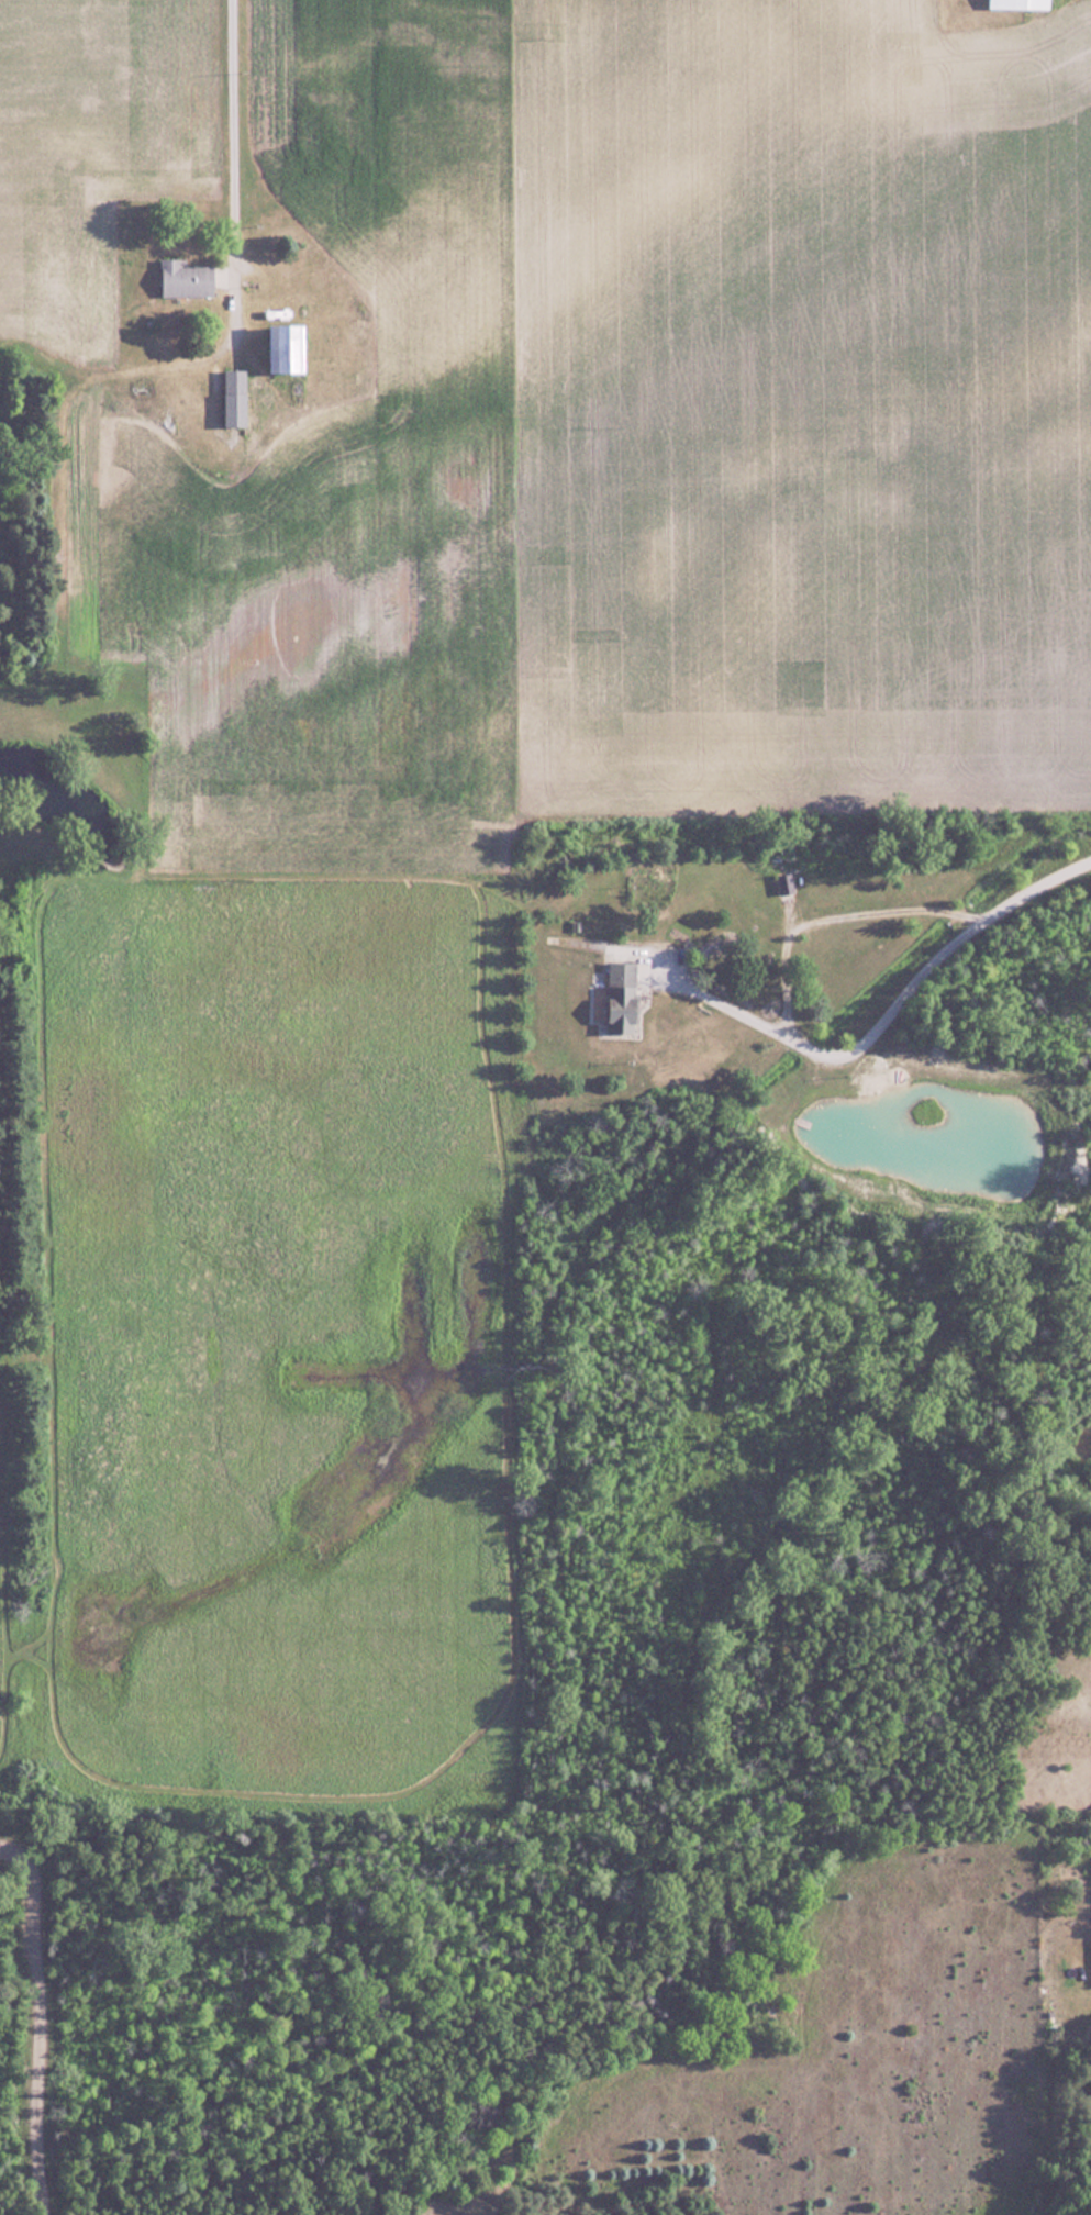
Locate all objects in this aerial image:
building: (1018, 4)
building: (187, 279)
building: (290, 348)
building: (237, 398)
building: (784, 883)
road: (1036, 886)
building: (623, 998)
road: (786, 1013)

